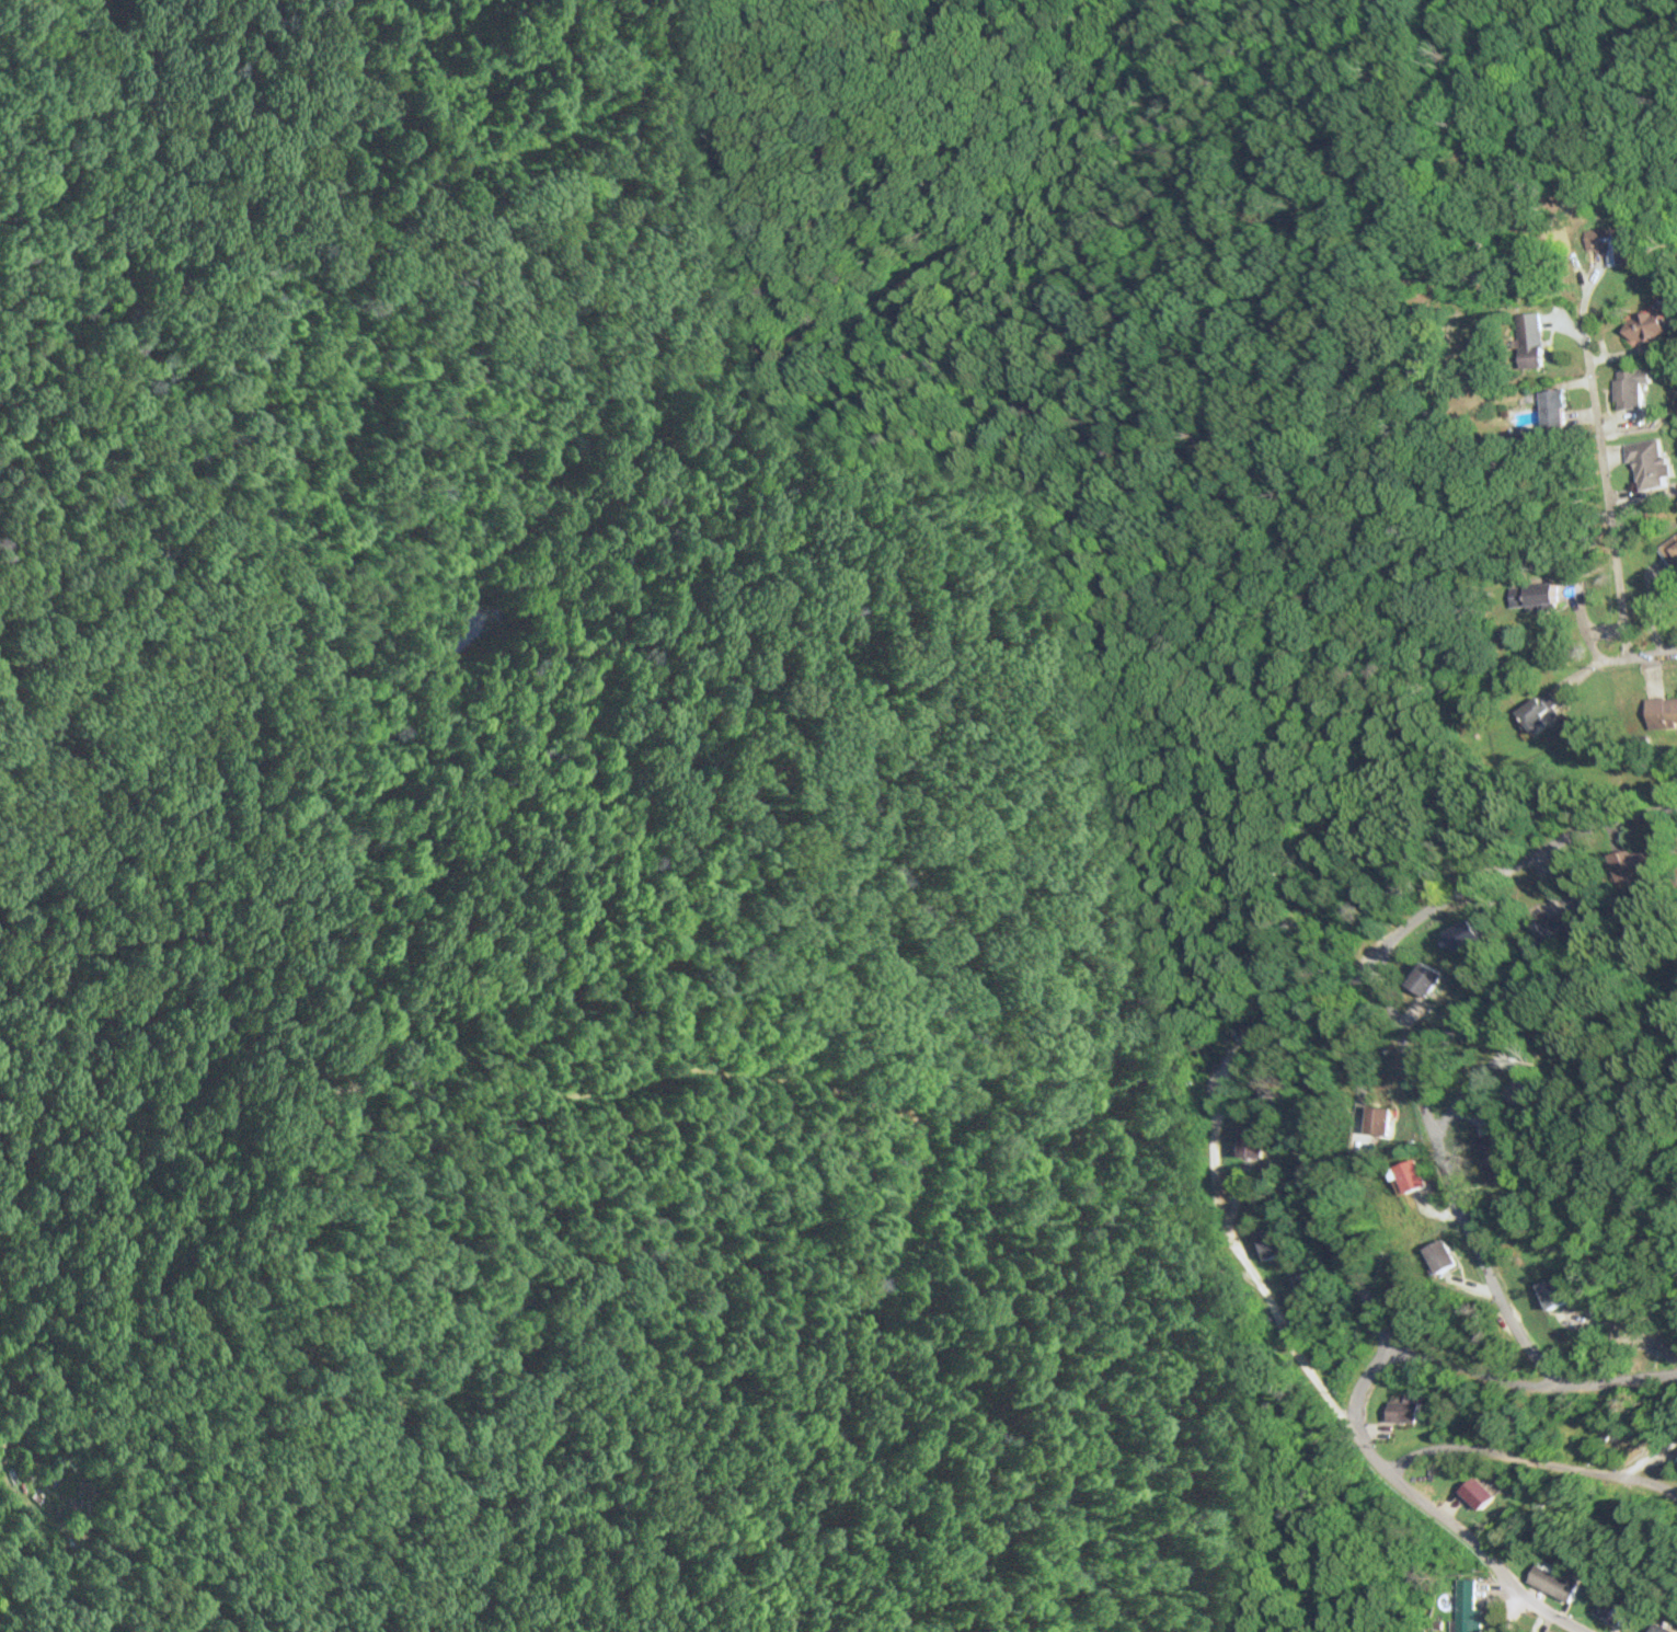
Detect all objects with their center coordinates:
building: (1643, 329)
building: (1529, 341)
building: (1629, 389)
building: (1551, 405)
building: (1647, 464)
road: (1605, 496)
building: (1670, 552)
building: (1534, 596)
road: (1624, 652)
road: (1651, 652)
building: (1661, 712)
building: (1537, 713)
building: (1632, 866)
building: (1560, 928)
building: (1461, 935)
building: (1424, 978)
road: (1367, 1011)
building: (1261, 1036)
road: (1473, 1088)
building: (1514, 1088)
building: (1375, 1119)
building: (1251, 1143)
building: (1486, 1156)
building: (1408, 1174)
road: (1448, 1175)
road: (1302, 1179)
building: (1270, 1242)
building: (1438, 1255)
road: (1243, 1264)
building: (1551, 1292)
road: (1526, 1380)
building: (1403, 1410)
road: (1349, 1425)
road: (1528, 1455)
building: (1676, 1463)
building: (1474, 1493)
building: (1554, 1581)
building: (1468, 1607)
road: (1506, 1610)
building: (1612, 1610)
building: (1661, 1629)
building: (1534, 1631)

